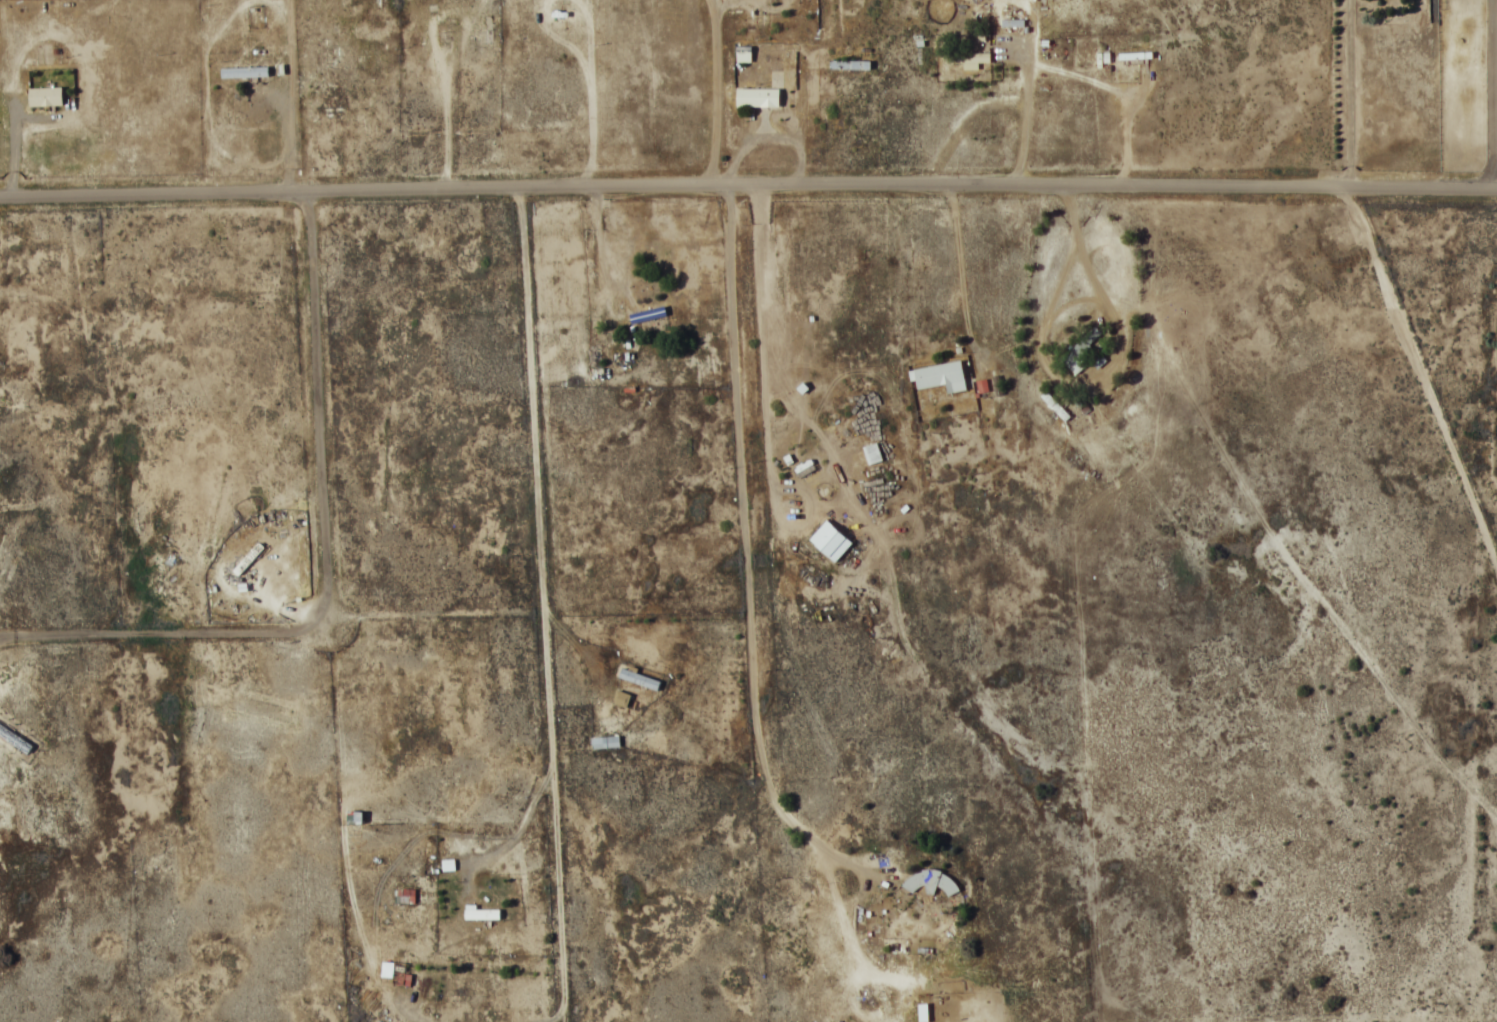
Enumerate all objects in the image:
building: (1135, 56)
building: (849, 64)
building: (244, 72)
road: (720, 92)
building: (45, 97)
building: (757, 97)
road: (748, 183)
building: (647, 313)
building: (1079, 350)
road: (1424, 370)
building: (940, 375)
road: (746, 476)
building: (249, 557)
road: (546, 600)
road: (625, 603)
road: (671, 604)
building: (639, 677)
building: (621, 697)
building: (604, 741)
road: (746, 800)
building: (929, 880)
building: (404, 895)
building: (481, 912)
building: (401, 978)

